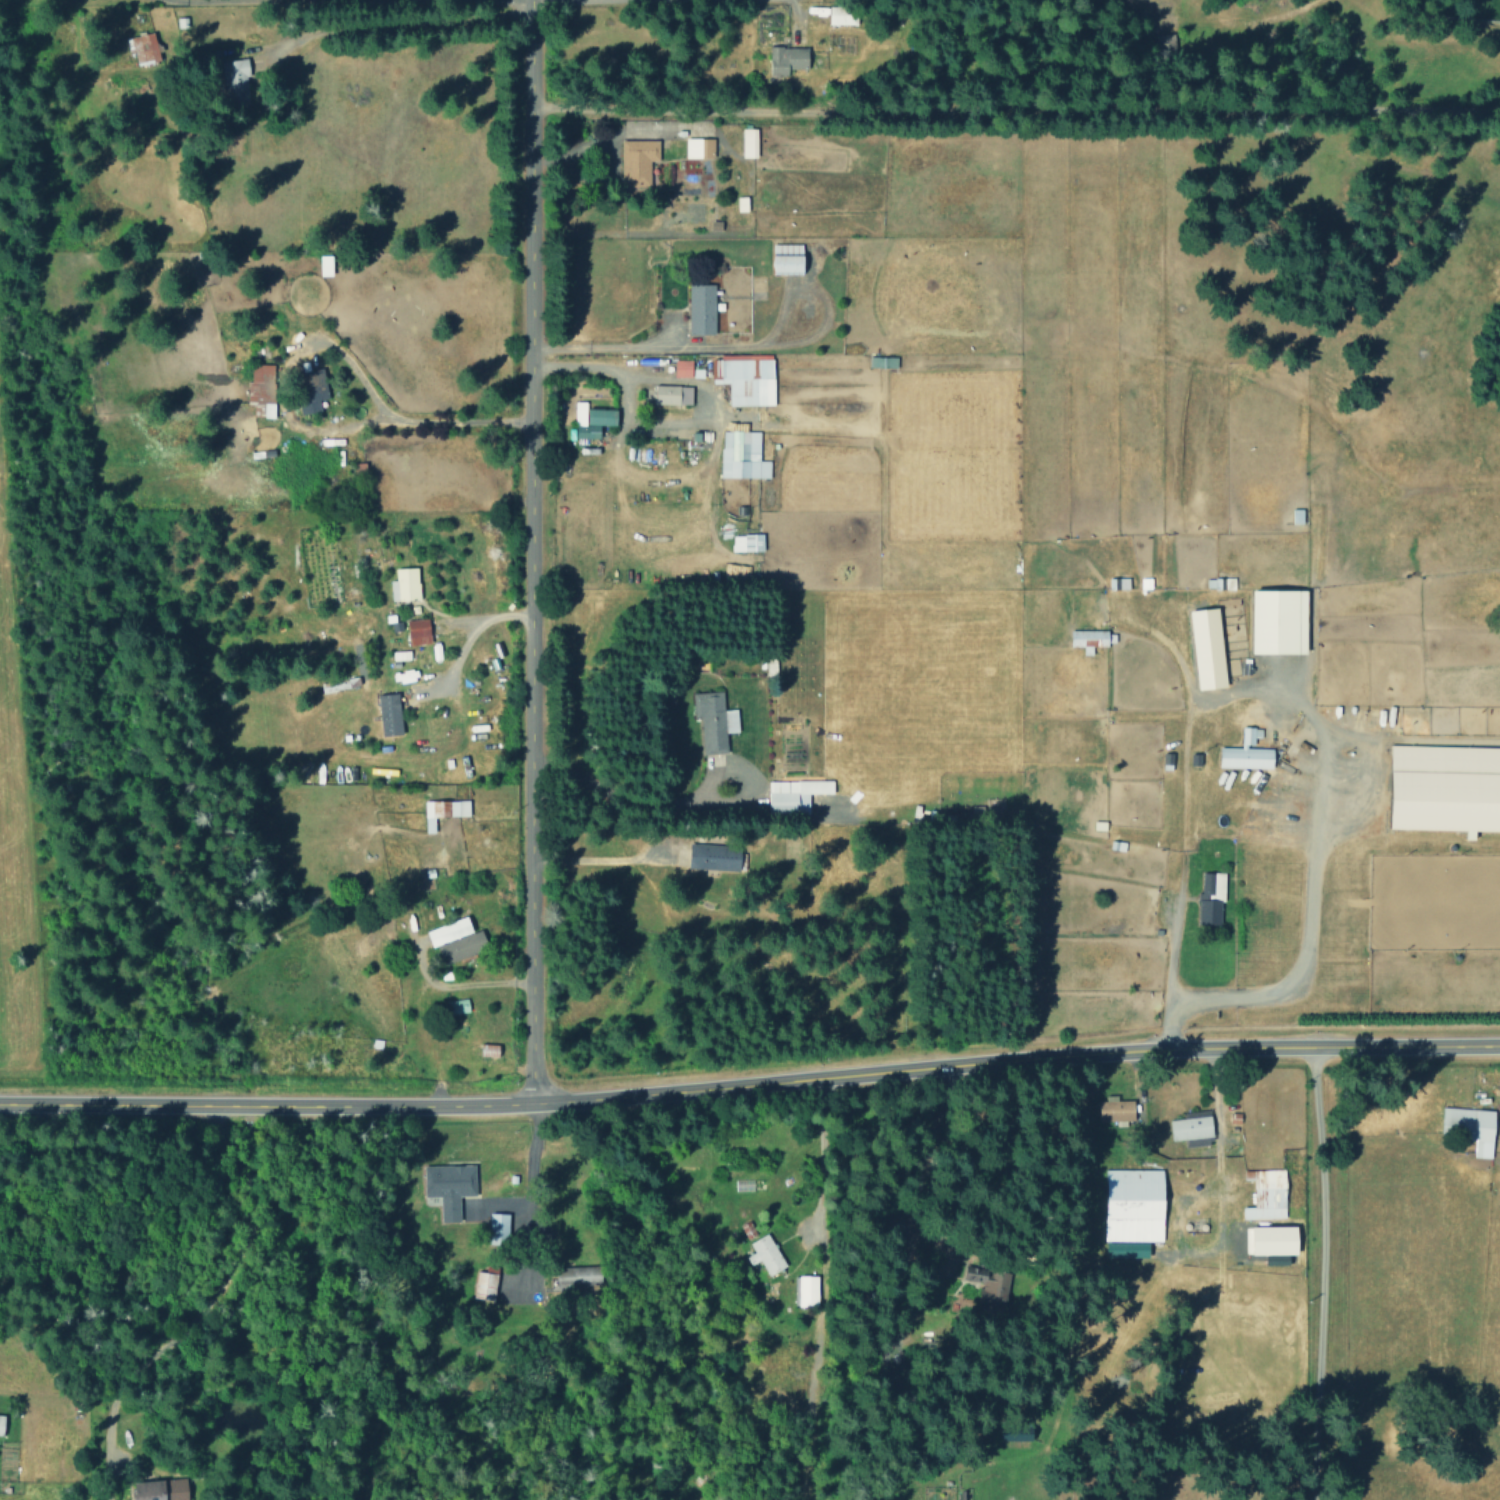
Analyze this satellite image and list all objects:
road: (641, 1)
road: (238, 3)
building: (842, 15)
building: (142, 48)
building: (787, 59)
building: (234, 76)
road: (1011, 111)
building: (748, 143)
building: (698, 148)
building: (636, 163)
building: (788, 259)
building: (325, 265)
building: (701, 309)
building: (882, 362)
building: (682, 368)
building: (744, 379)
building: (261, 386)
building: (311, 390)
building: (672, 394)
road: (397, 419)
building: (591, 420)
building: (740, 455)
building: (1297, 515)
building: (747, 542)
road: (528, 553)
building: (1118, 583)
building: (404, 584)
building: (1280, 621)
building: (418, 631)
building: (1090, 639)
building: (1207, 648)
building: (389, 714)
building: (714, 721)
building: (1247, 752)
building: (1446, 788)
building: (794, 793)
road: (635, 804)
building: (443, 811)
building: (714, 857)
building: (1211, 898)
building: (449, 931)
building: (462, 946)
building: (457, 1006)
airport runway: (46, 1060)
road: (750, 1085)
building: (1116, 1109)
building: (1191, 1126)
building: (1470, 1127)
building: (448, 1186)
building: (1266, 1194)
building: (1133, 1212)
building: (498, 1226)
building: (1270, 1240)
building: (764, 1254)
road: (1315, 1275)
building: (578, 1277)
building: (988, 1286)
building: (807, 1290)
road: (227, 1305)
building: (1, 1424)
building: (159, 1489)

